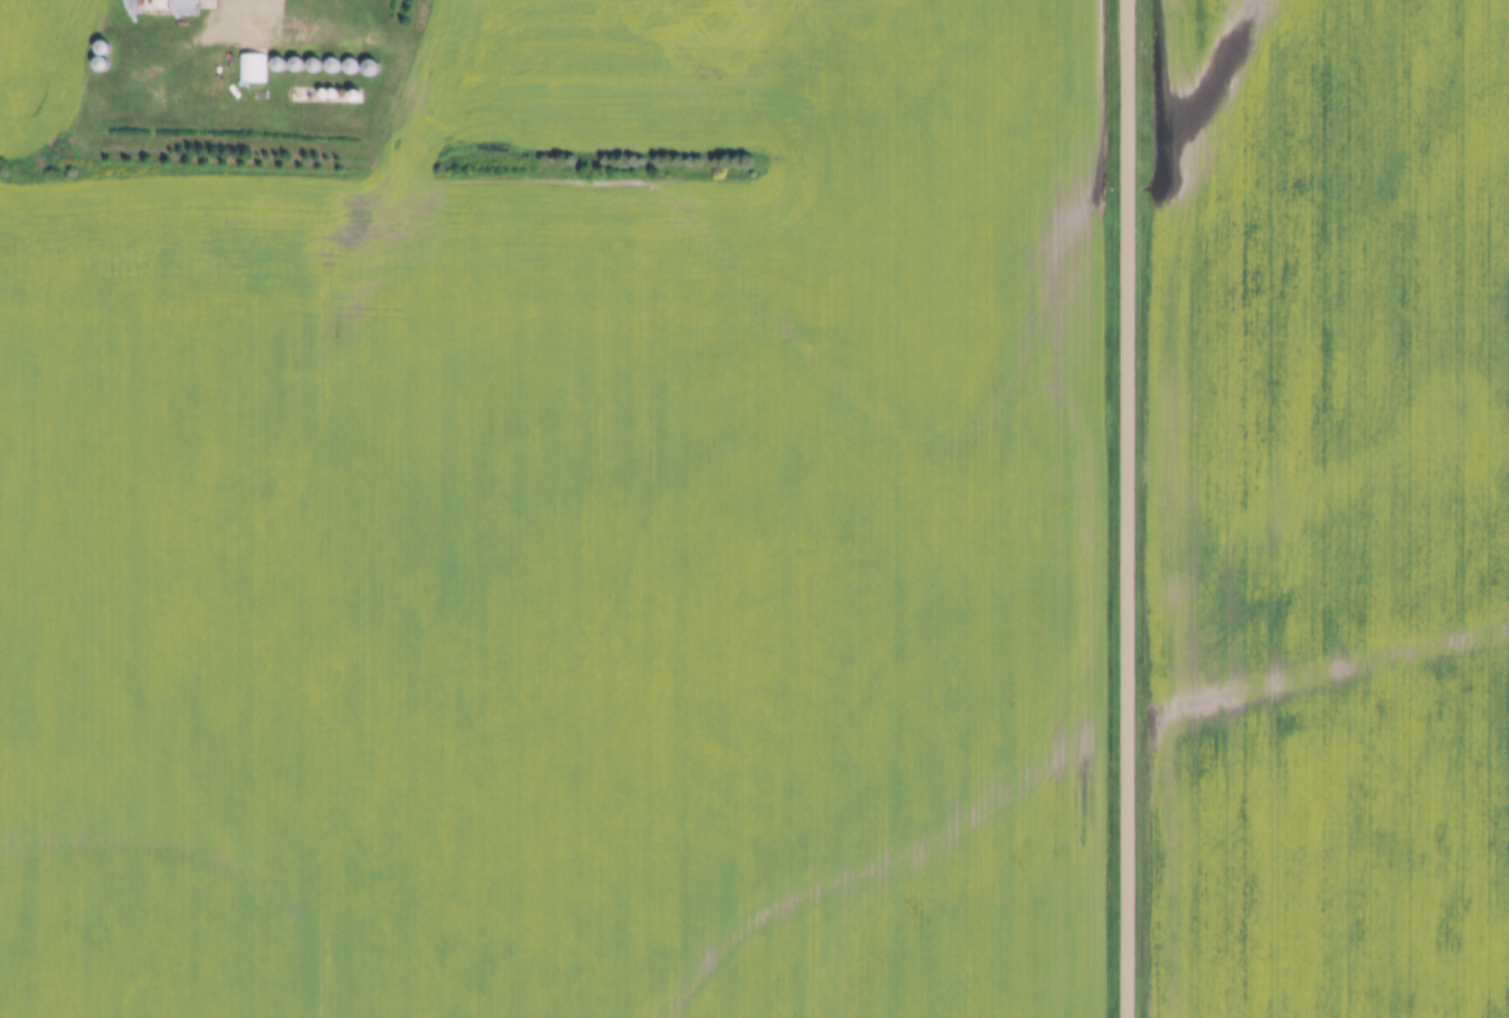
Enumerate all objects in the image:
building: (168, 6)
road: (247, 20)
building: (254, 65)
road: (1133, 509)

